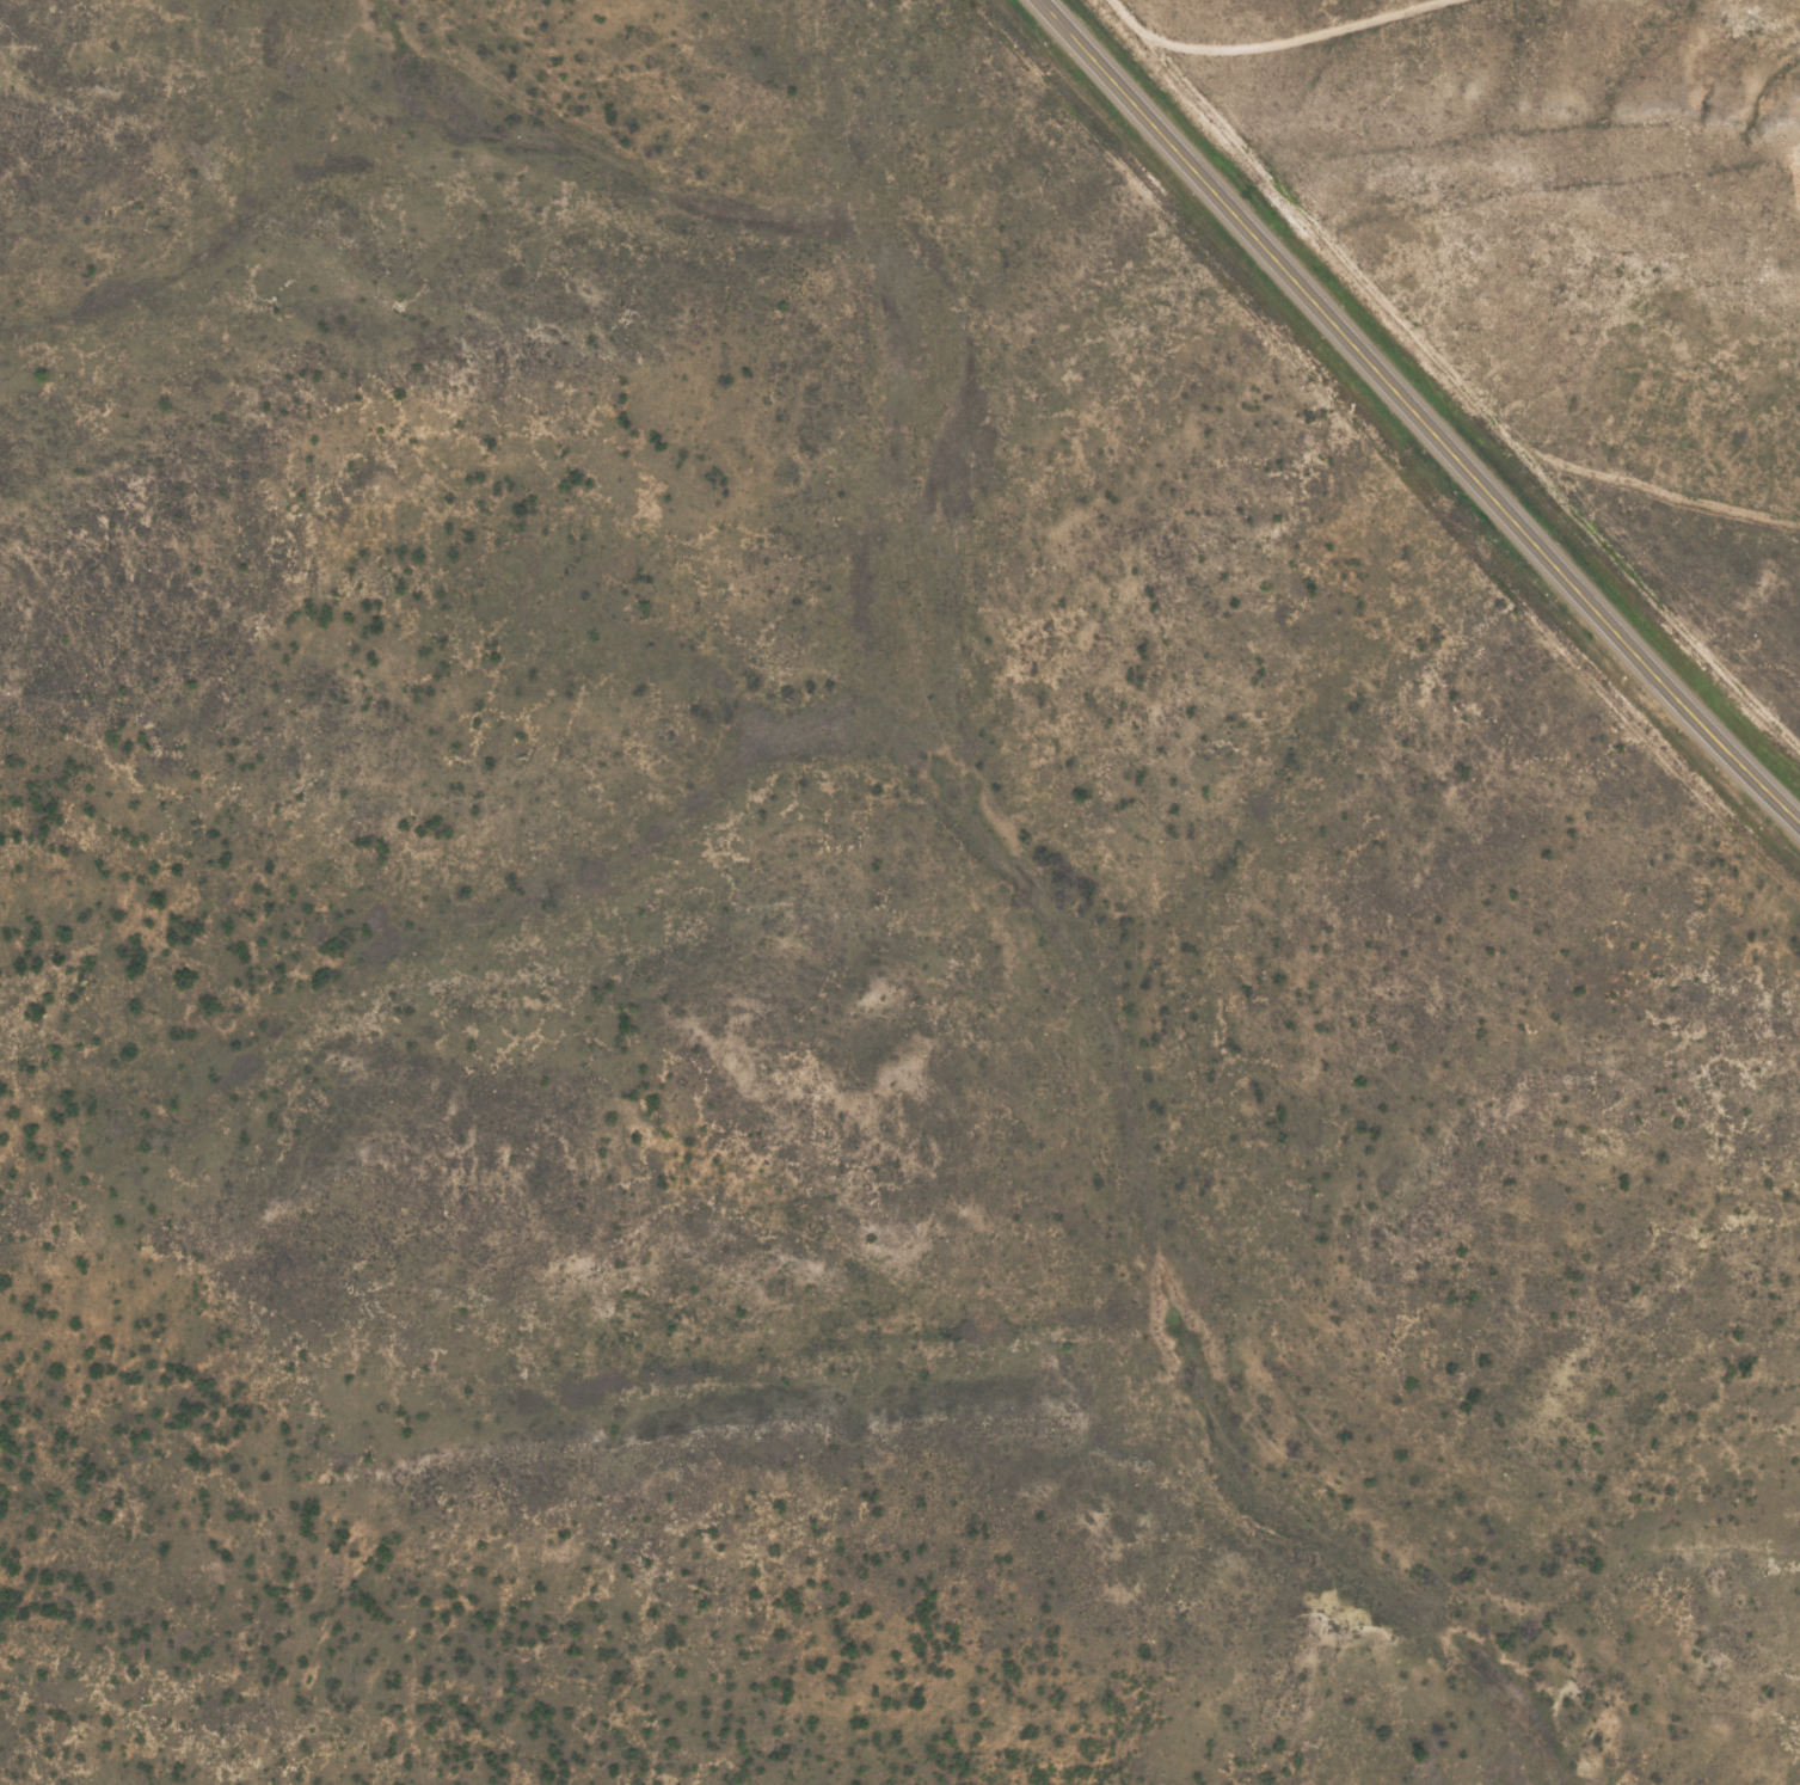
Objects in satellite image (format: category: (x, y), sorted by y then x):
road: (1363, 5)
road: (1419, 411)

